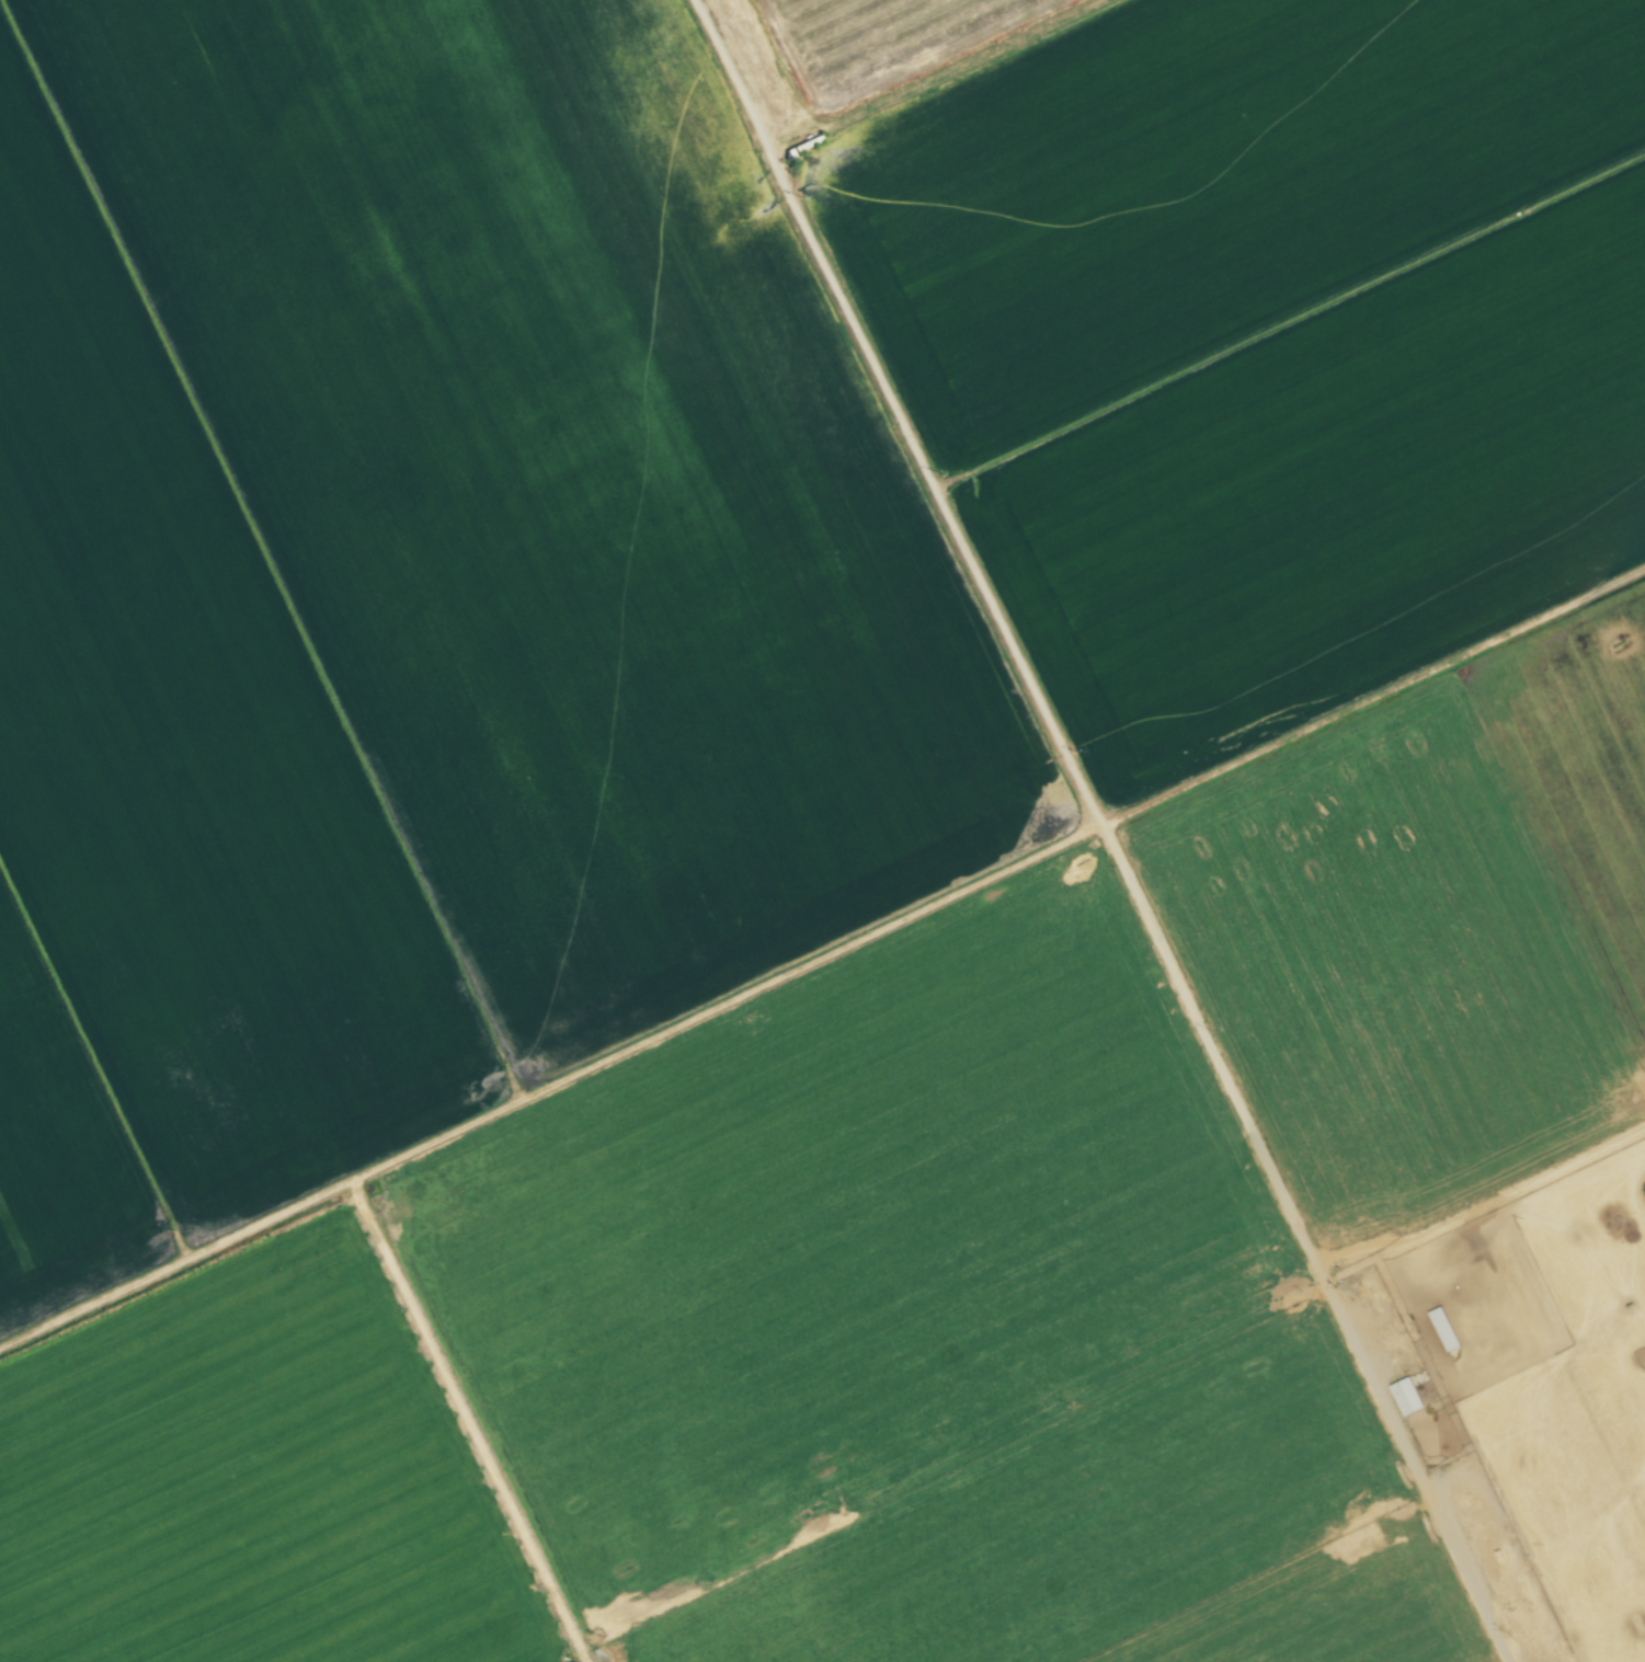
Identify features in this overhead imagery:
building: (1443, 1331)
building: (1406, 1398)
road: (1412, 1464)

